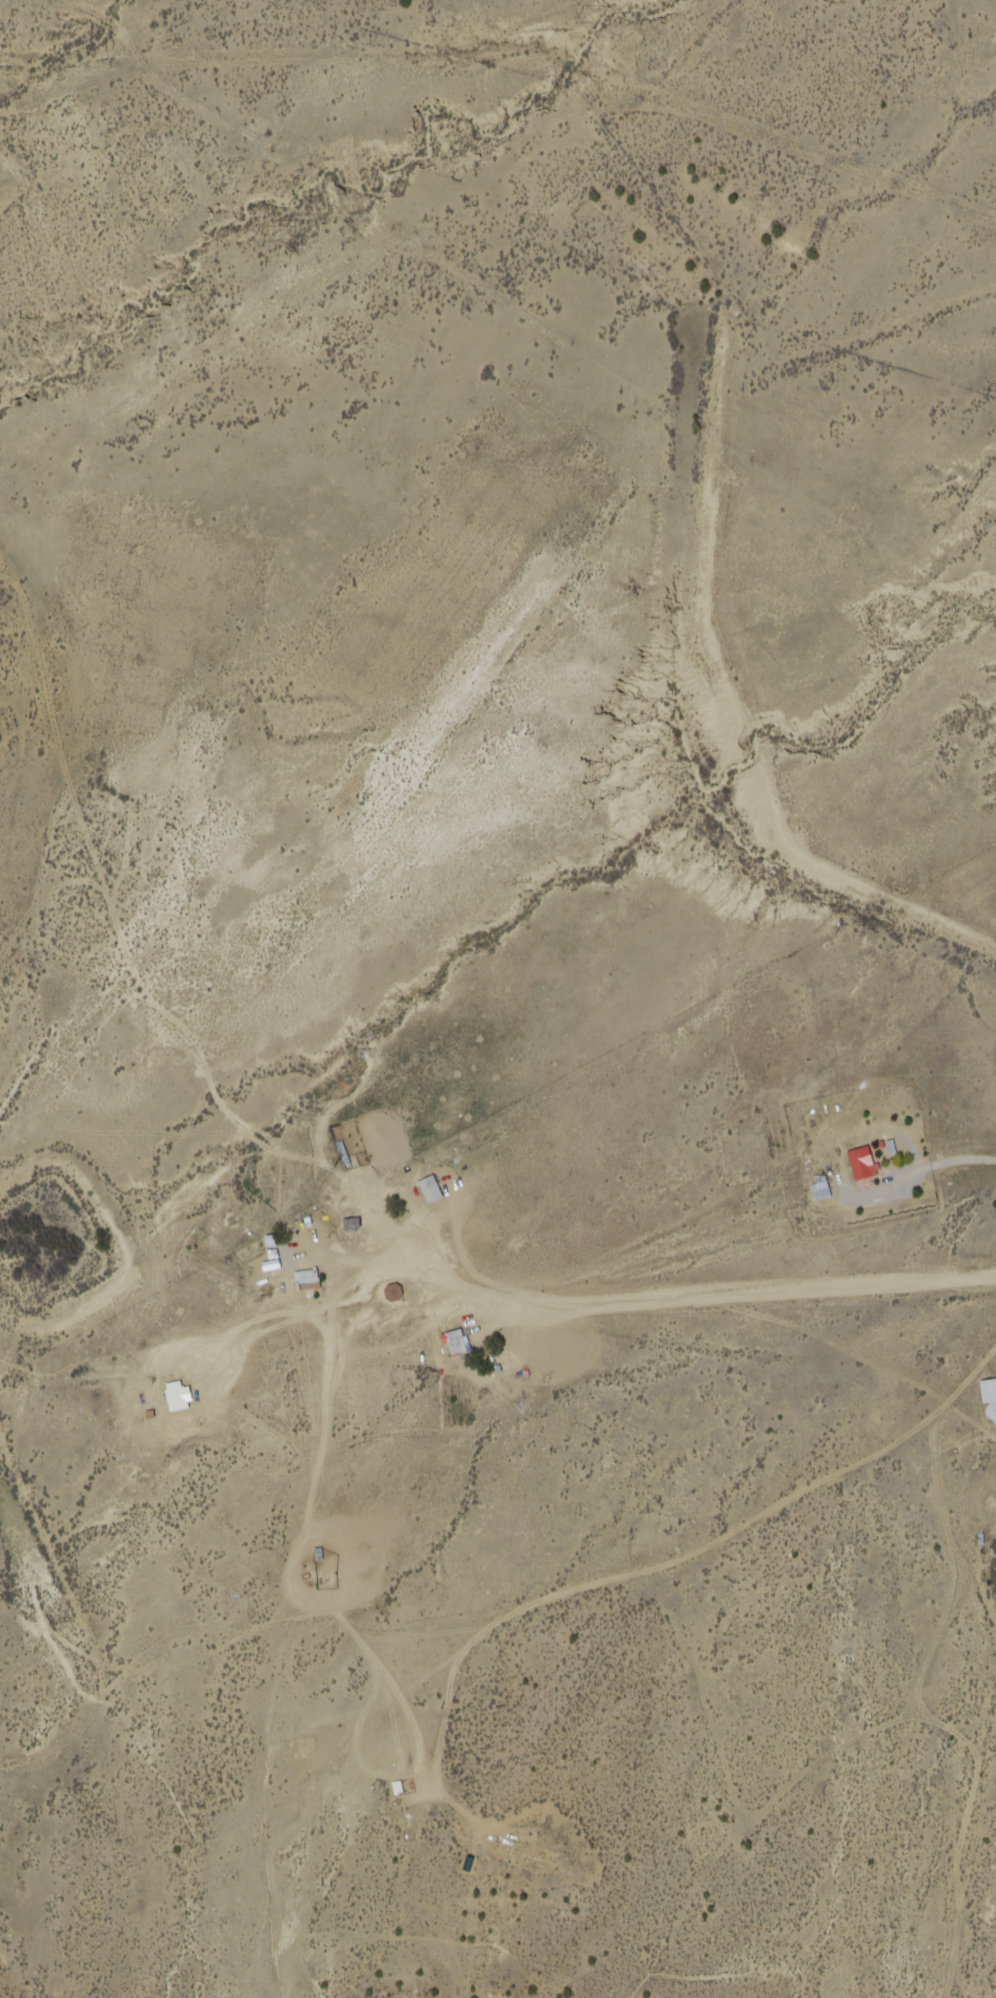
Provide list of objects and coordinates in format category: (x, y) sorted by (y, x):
building: (861, 1162)
building: (821, 1187)
road: (760, 1293)
building: (457, 1340)
building: (175, 1394)
road: (206, 1446)

